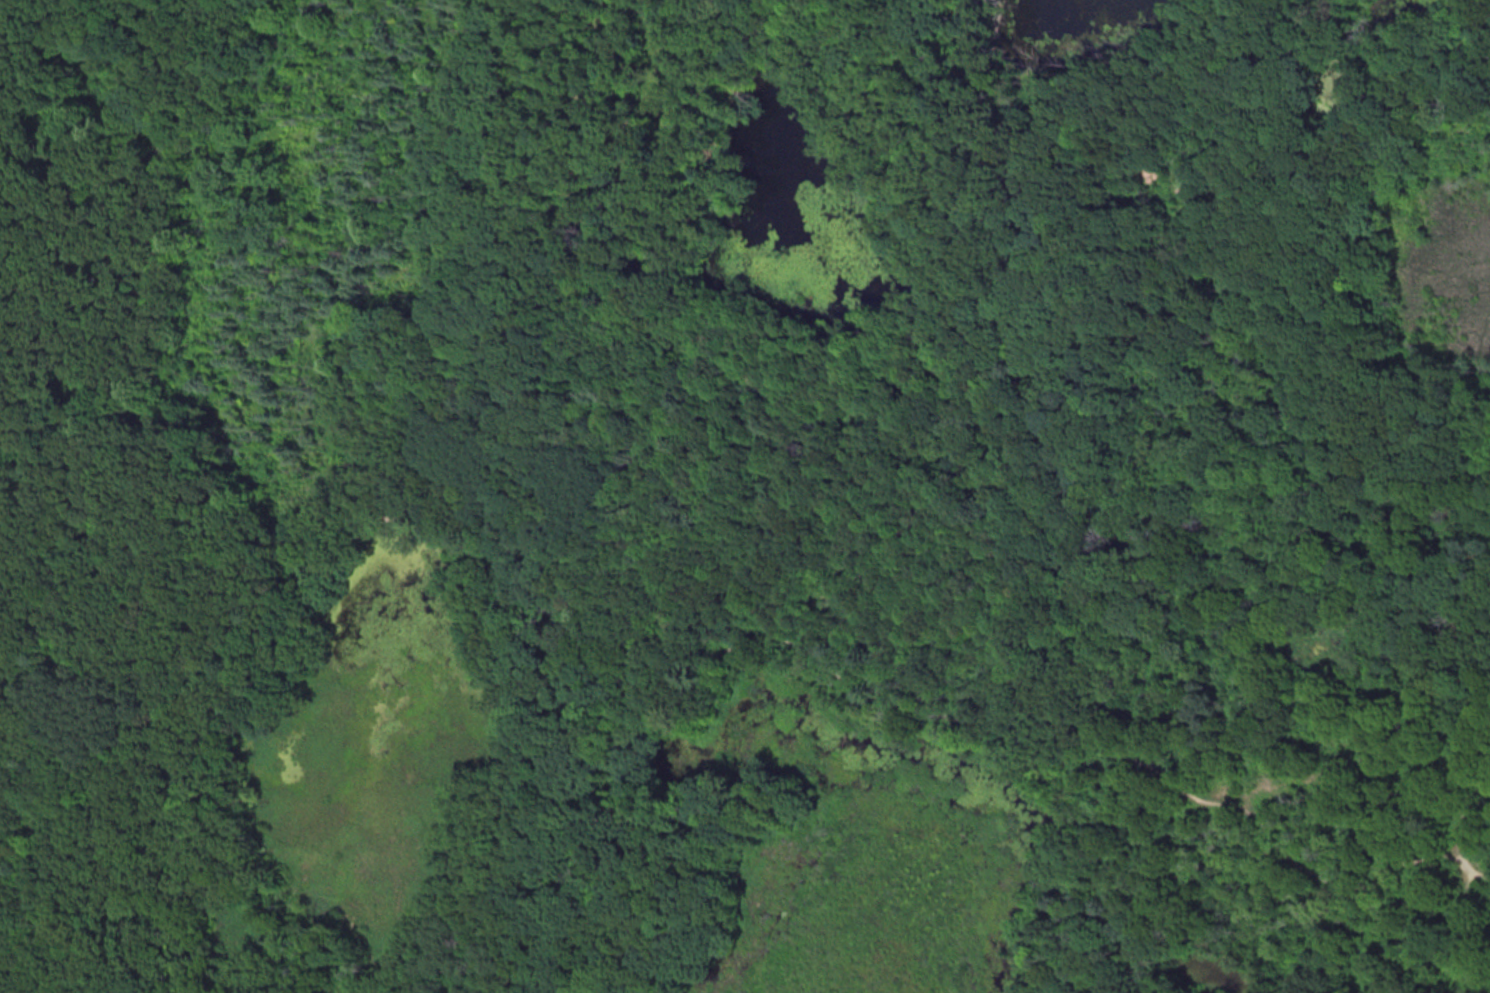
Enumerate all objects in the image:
road: (2, 9)
park: (745, 496)

